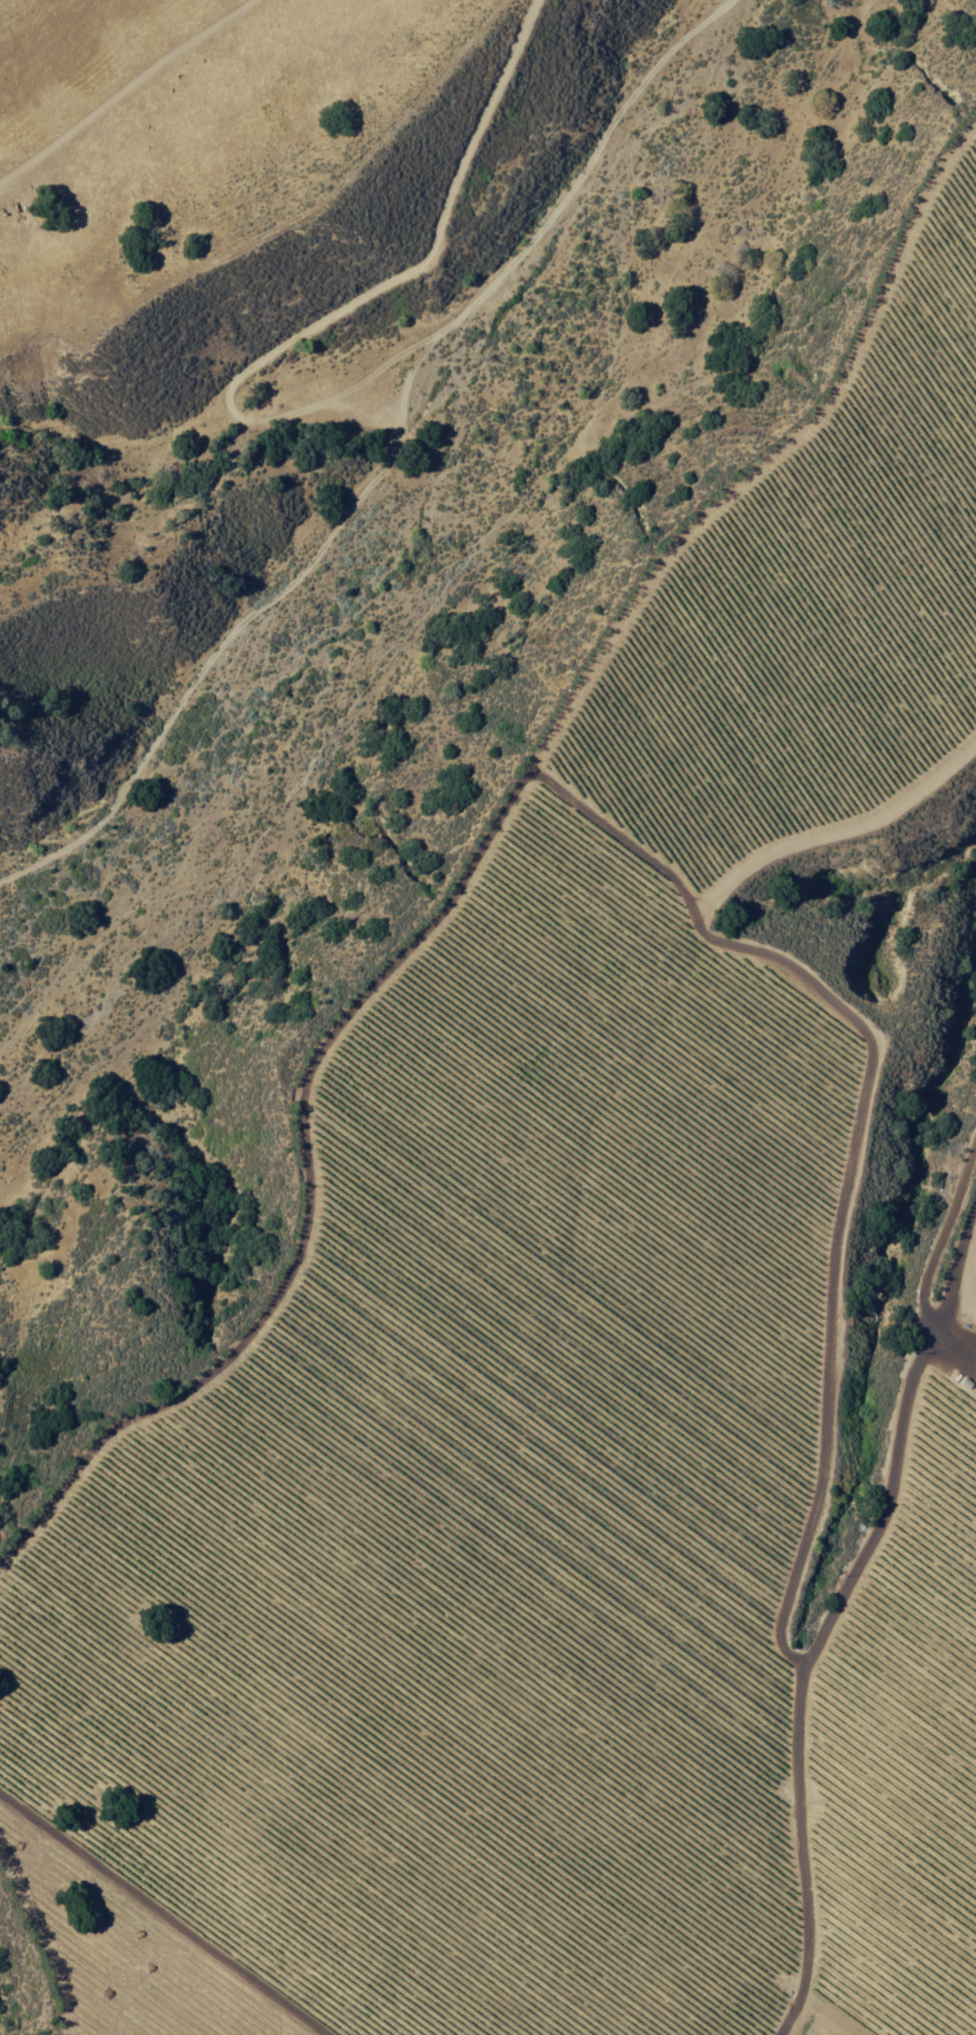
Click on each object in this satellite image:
road: (98, 73)
road: (220, 930)
crop: (971, 1126)
crop: (563, 1382)

